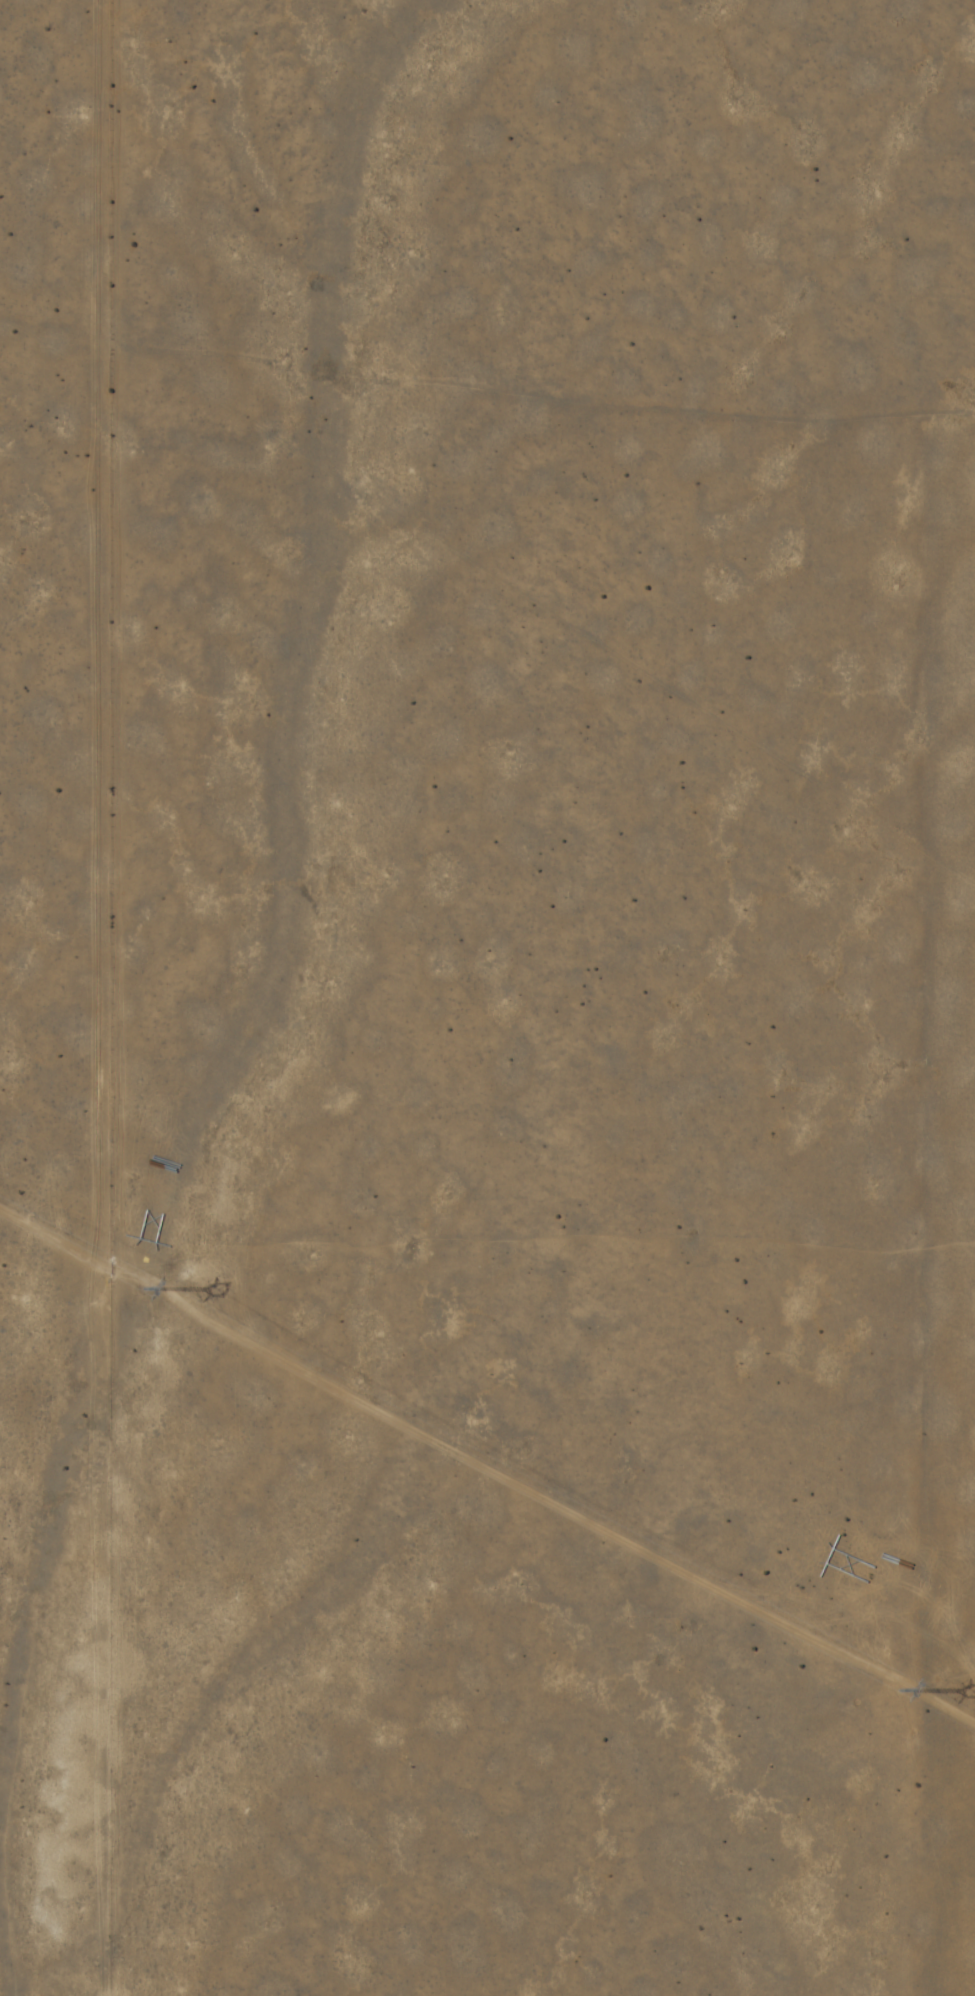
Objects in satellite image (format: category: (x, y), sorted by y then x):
road: (487, 372)
power tower: (140, 1290)
power tower: (897, 1691)

